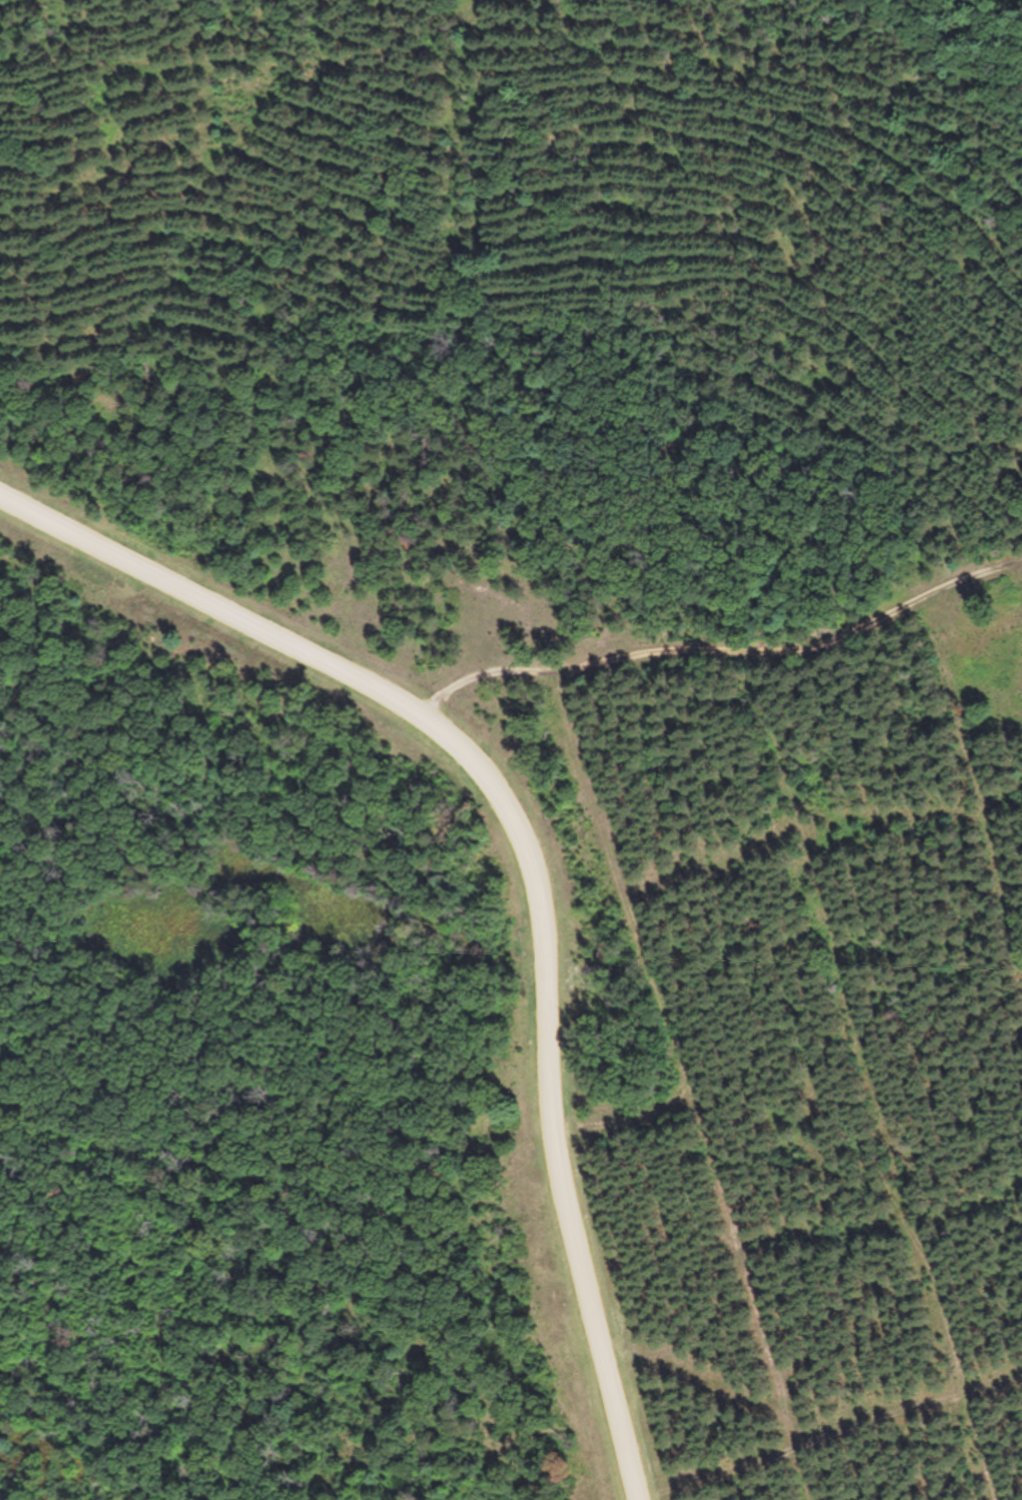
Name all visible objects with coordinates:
building: (483, 616)
road: (721, 656)
road: (529, 858)

